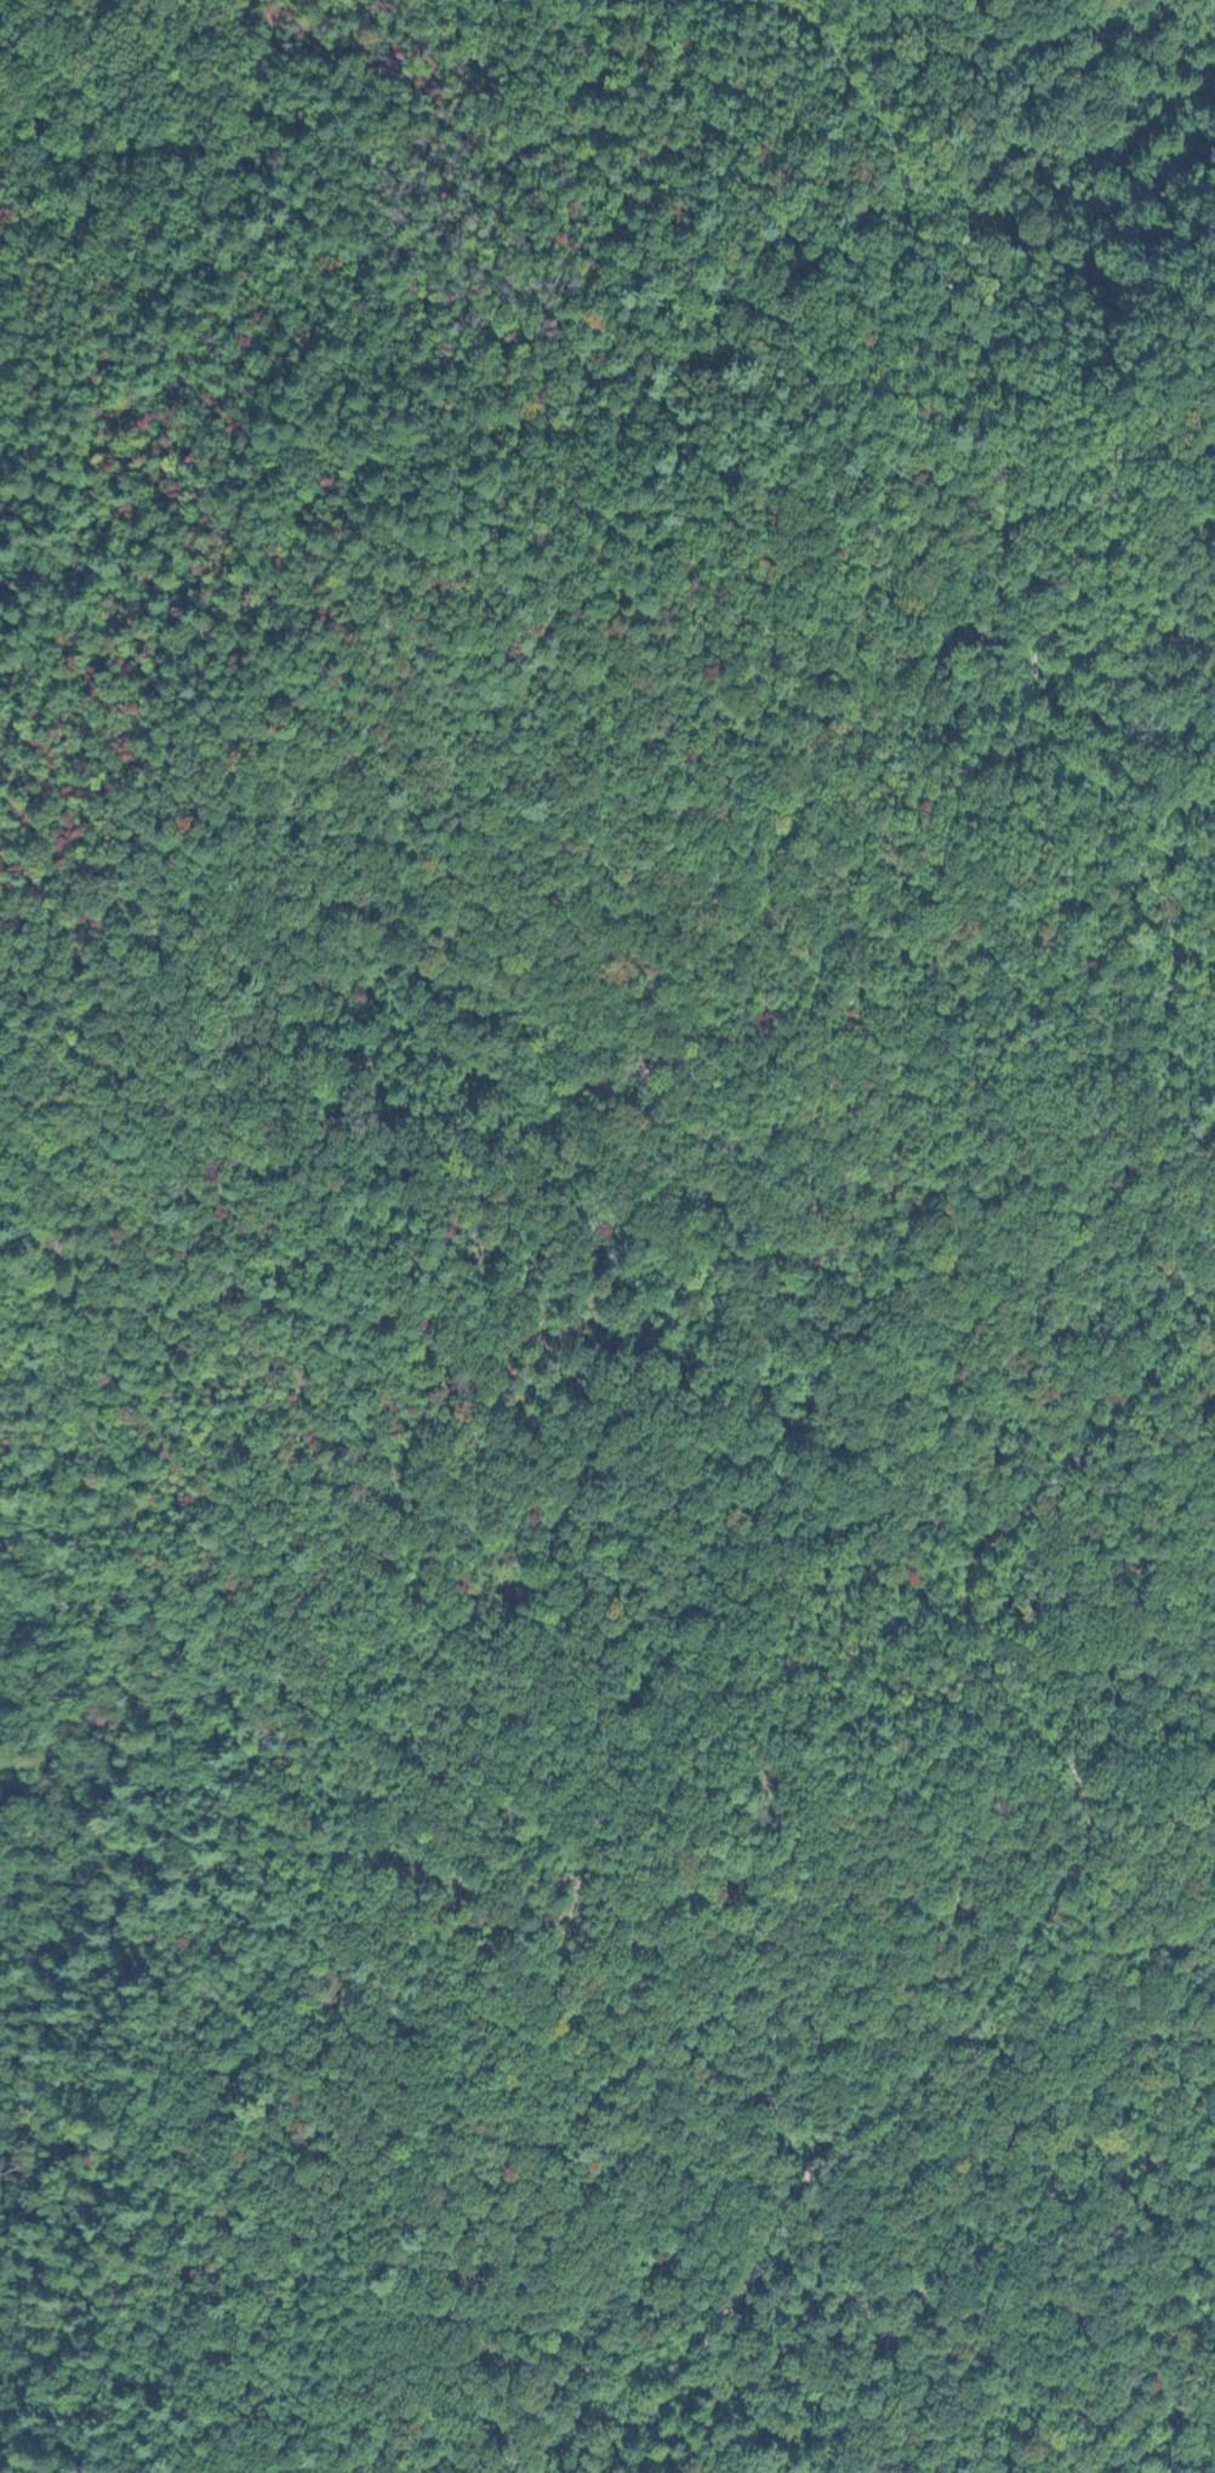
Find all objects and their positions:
road: (112, 359)
road: (1112, 530)
road: (304, 1571)
road: (1080, 1905)

